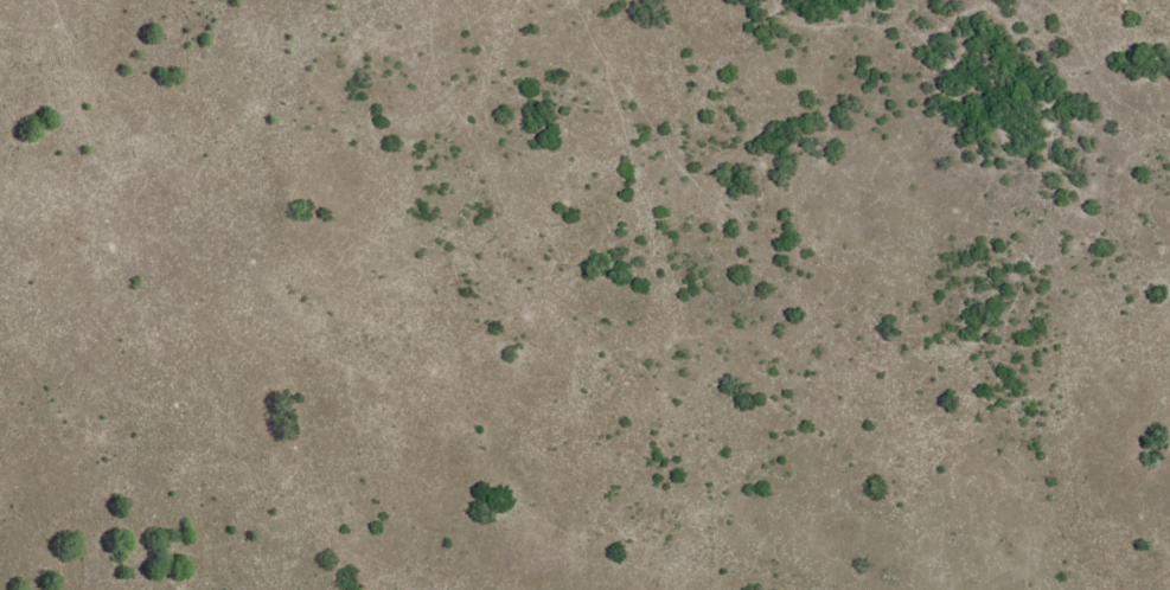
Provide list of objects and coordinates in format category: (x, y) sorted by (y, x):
road: (1157, 579)

